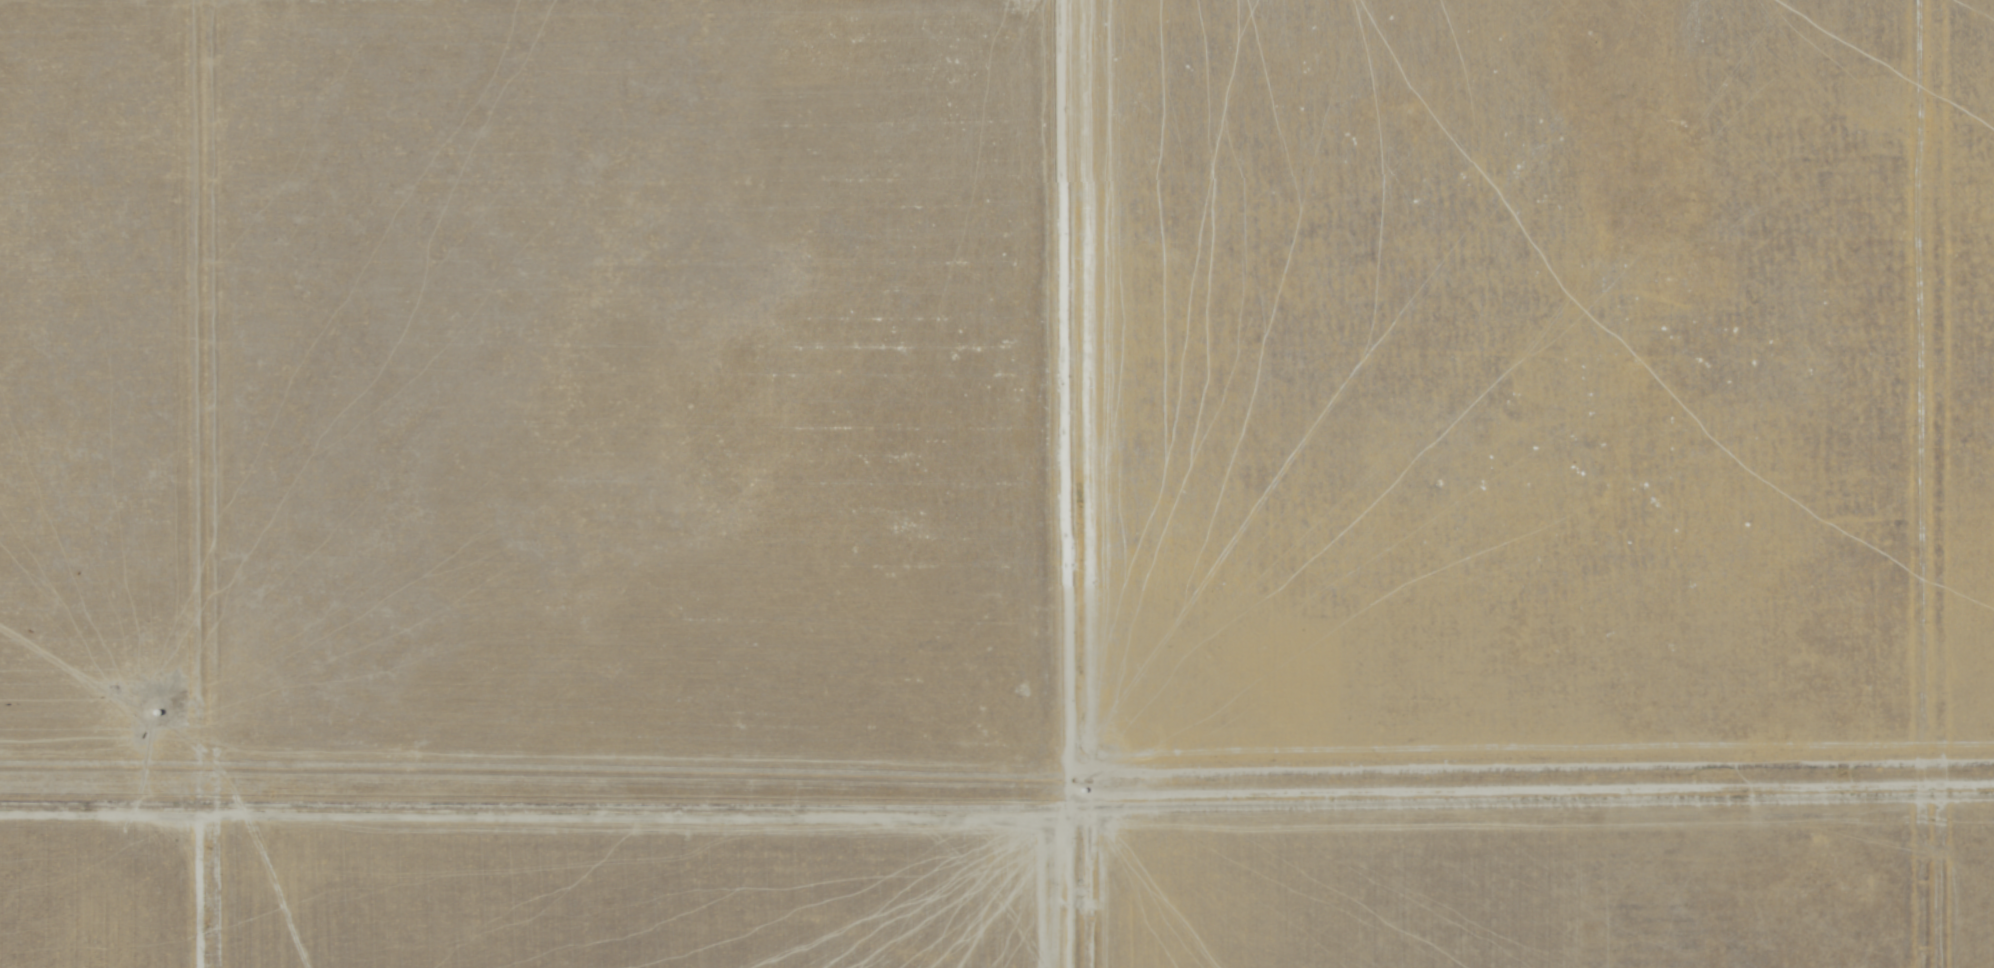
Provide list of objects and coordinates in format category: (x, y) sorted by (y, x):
crop: (997, 484)

